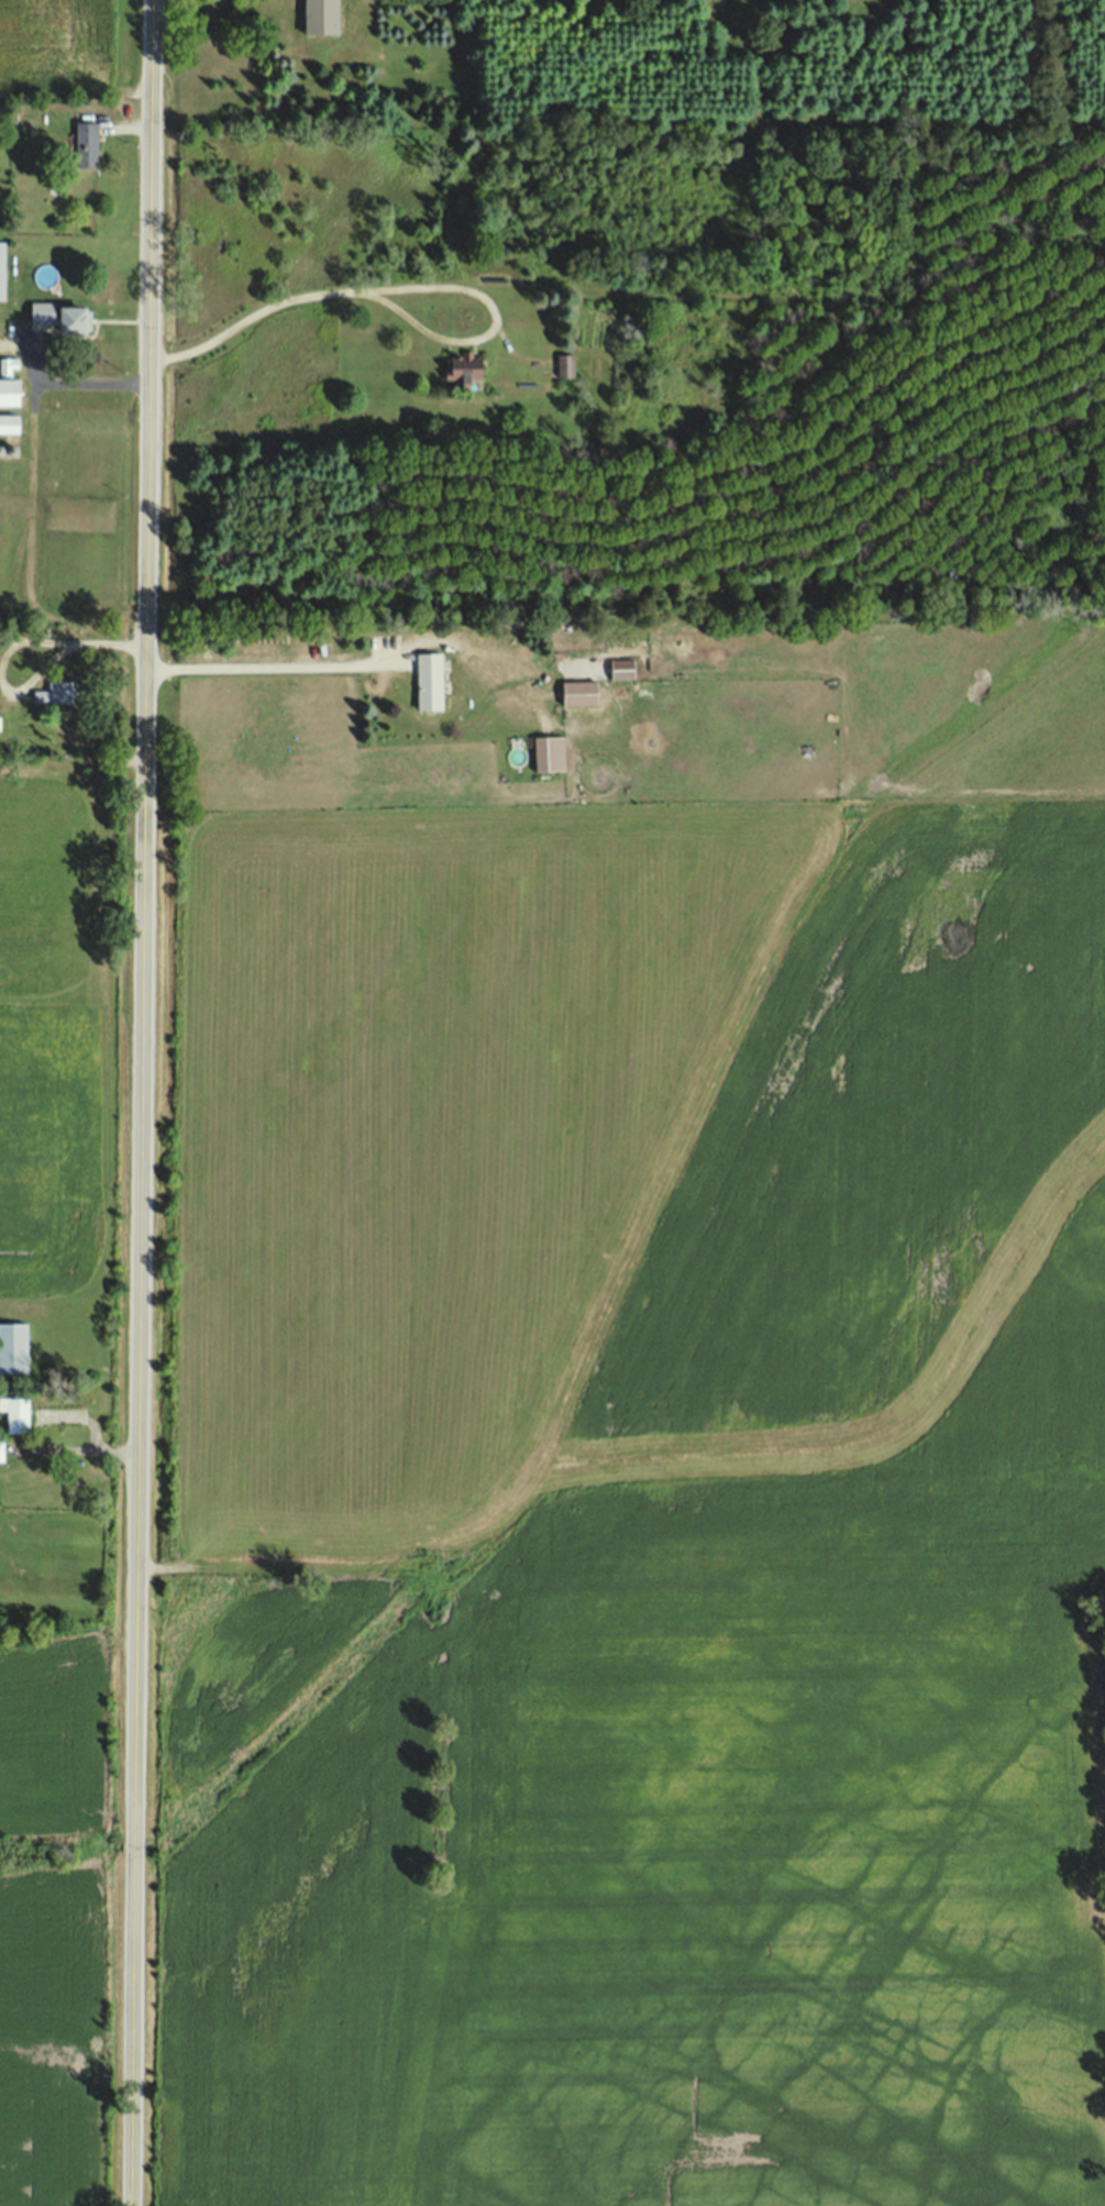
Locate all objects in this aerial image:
building: (313, 16)
building: (88, 144)
building: (4, 269)
road: (399, 289)
building: (62, 317)
building: (562, 365)
building: (455, 369)
building: (12, 423)
building: (0, 661)
building: (616, 668)
building: (424, 679)
building: (573, 692)
building: (56, 693)
building: (544, 752)
road: (142, 1103)
building: (14, 1345)
building: (18, 1412)
building: (2, 1447)

